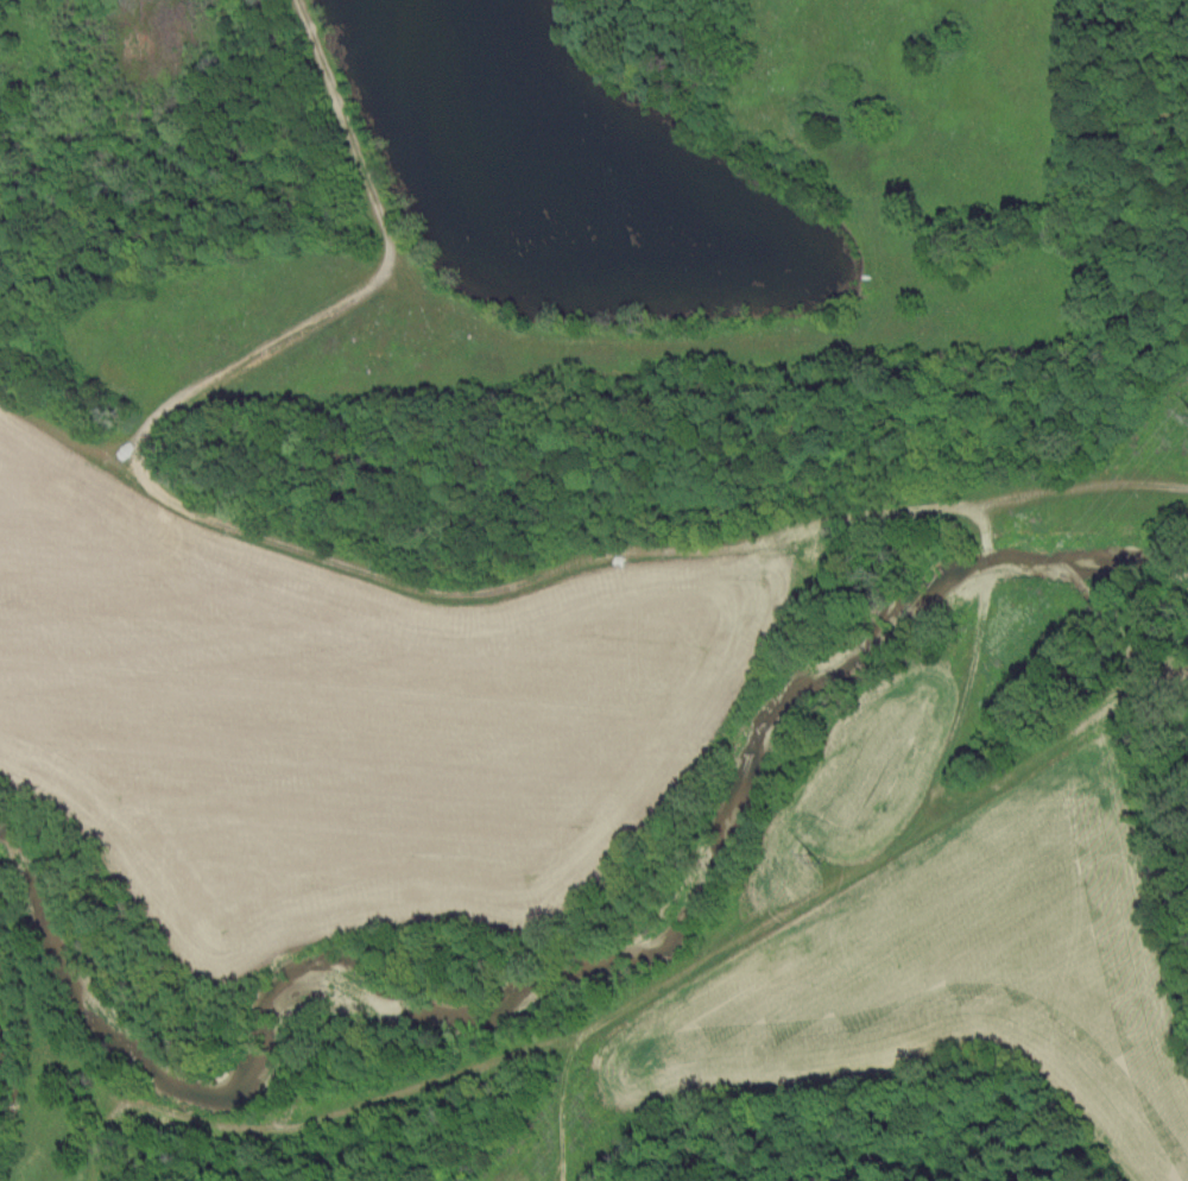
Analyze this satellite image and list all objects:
road: (352, 557)
road: (981, 662)
road: (1078, 718)
power tower: (823, 850)

